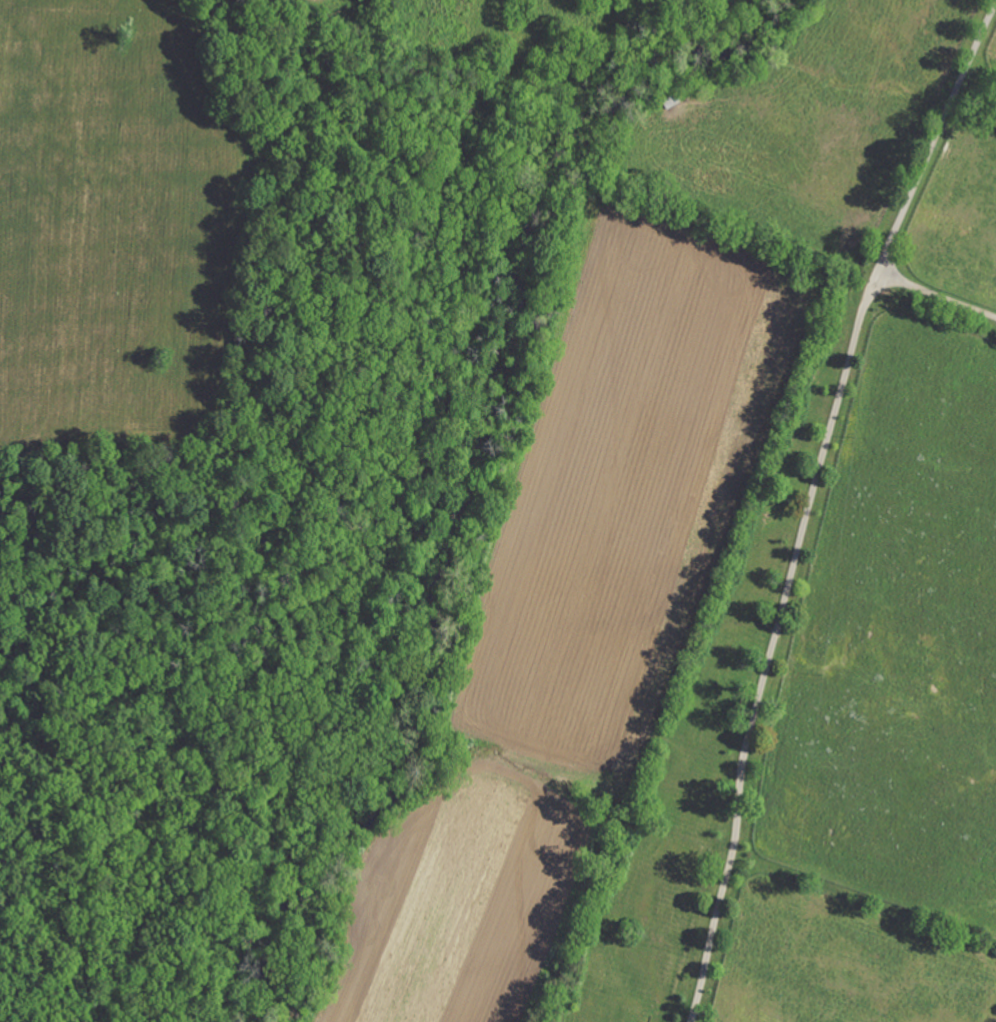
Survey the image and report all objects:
road: (937, 295)
road: (809, 502)

